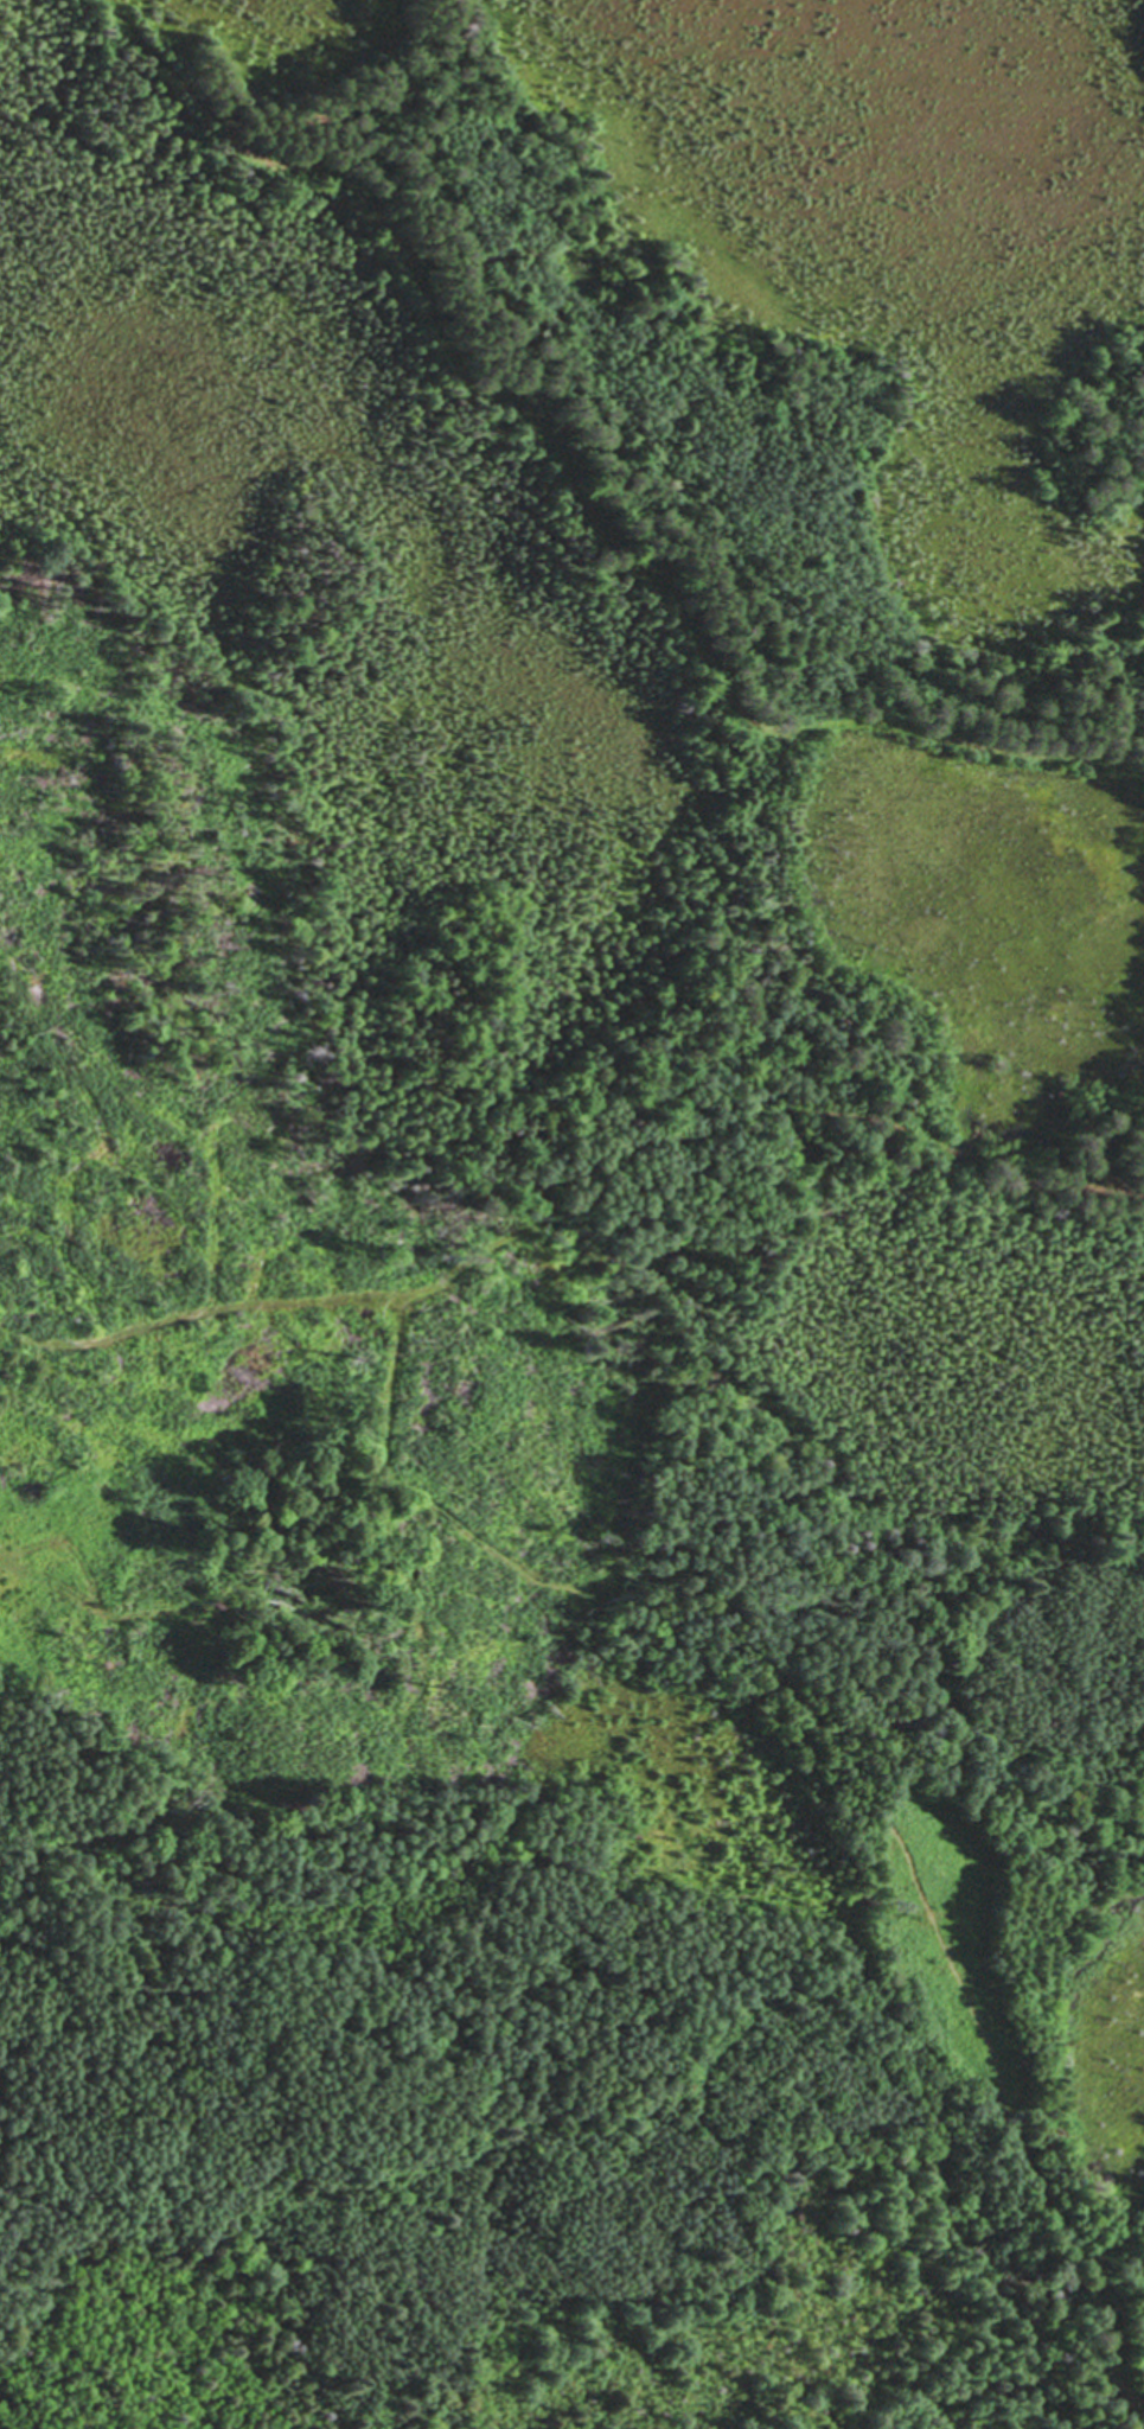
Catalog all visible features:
road: (567, 483)

